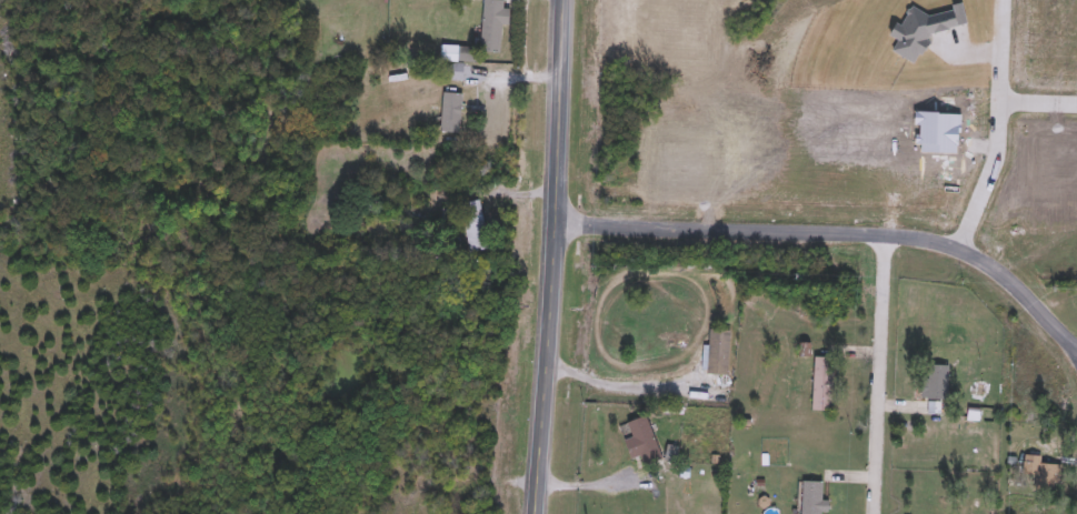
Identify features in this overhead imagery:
building: (492, 26)
building: (461, 63)
road: (1038, 99)
road: (998, 127)
building: (475, 228)
road: (837, 229)
road: (551, 256)
building: (717, 353)
road: (878, 373)
building: (935, 382)
building: (824, 384)
road: (617, 385)
building: (642, 442)
building: (1040, 470)
road: (591, 484)
building: (812, 497)

